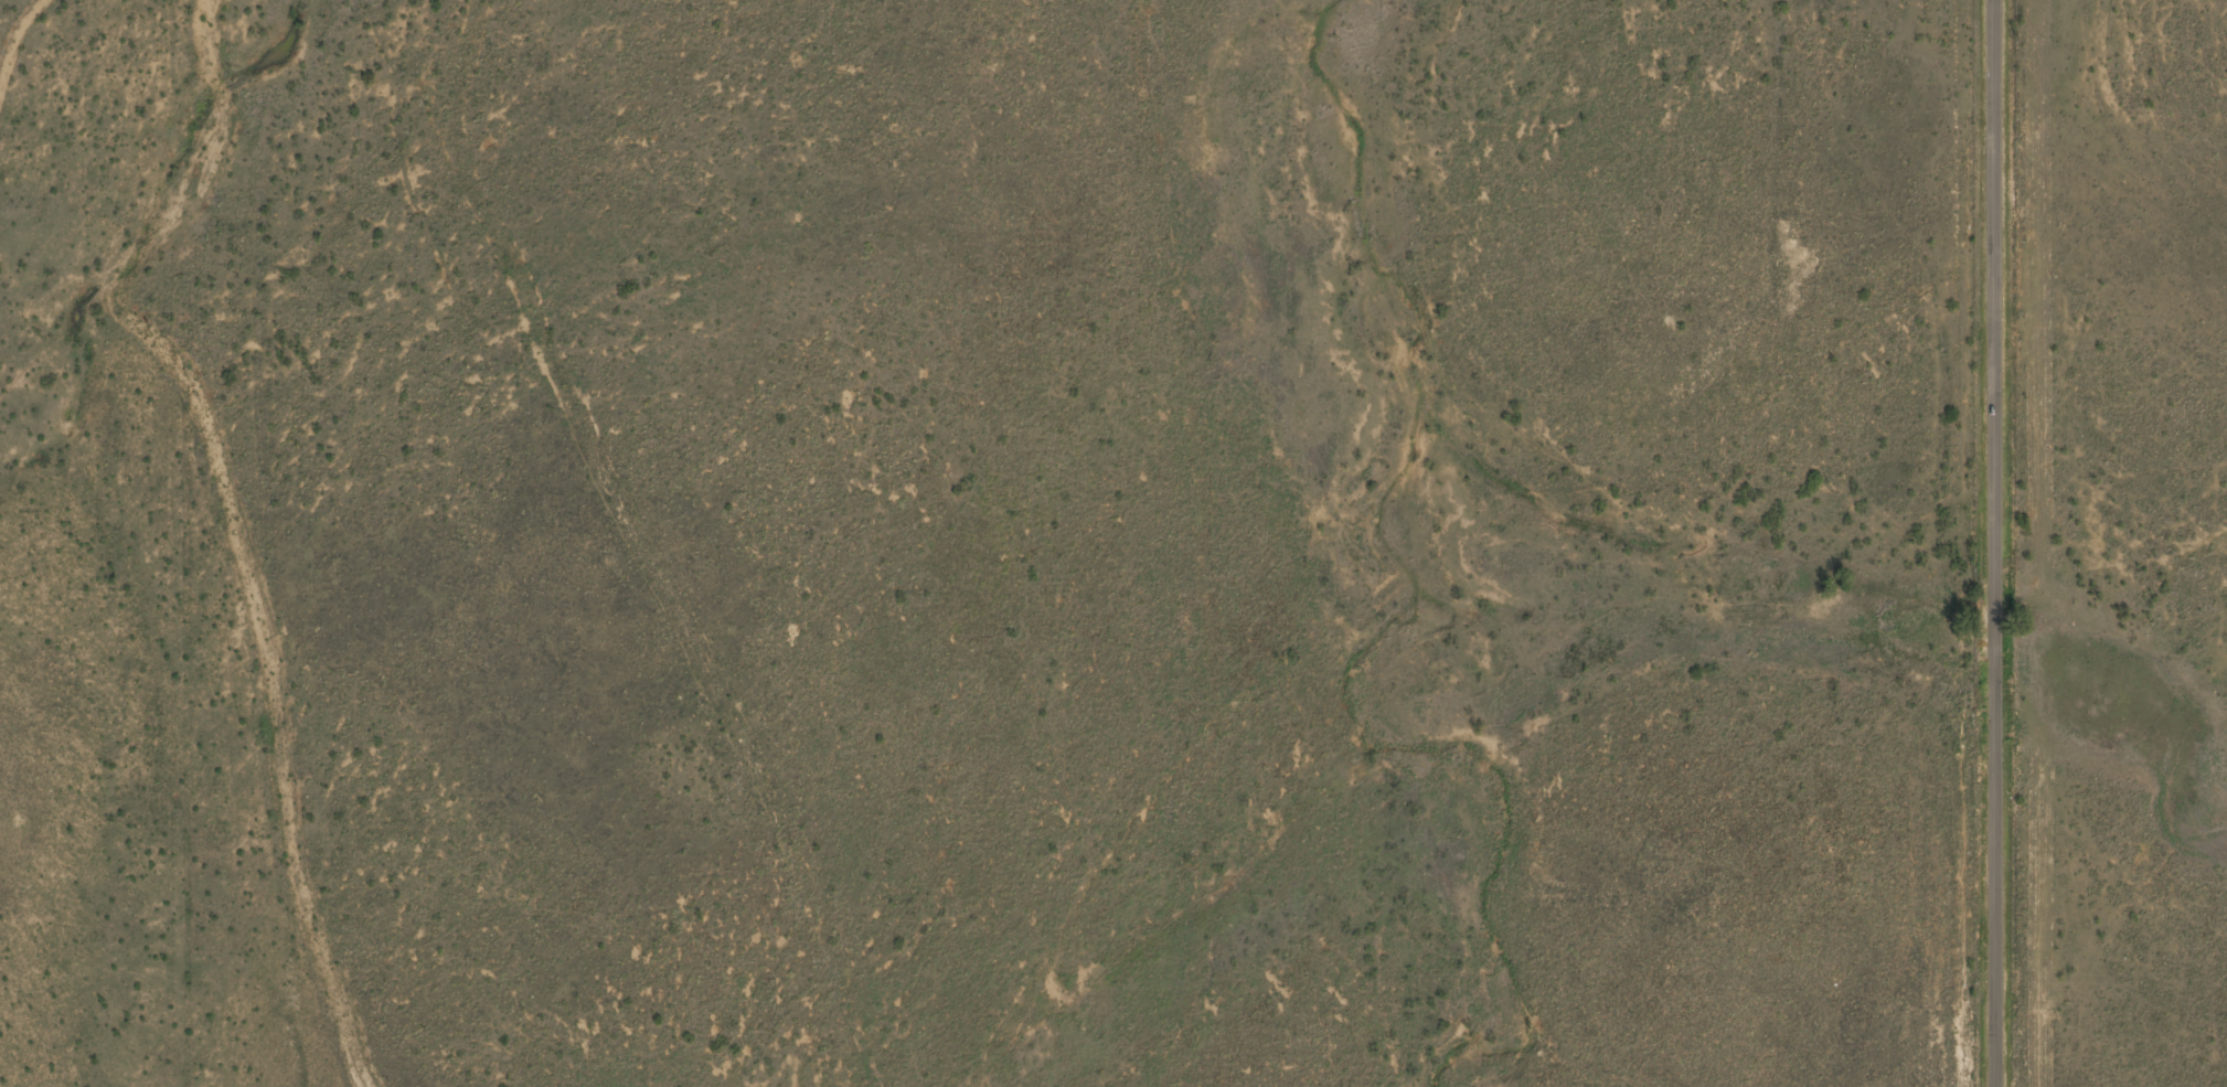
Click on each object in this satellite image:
road: (1997, 543)

